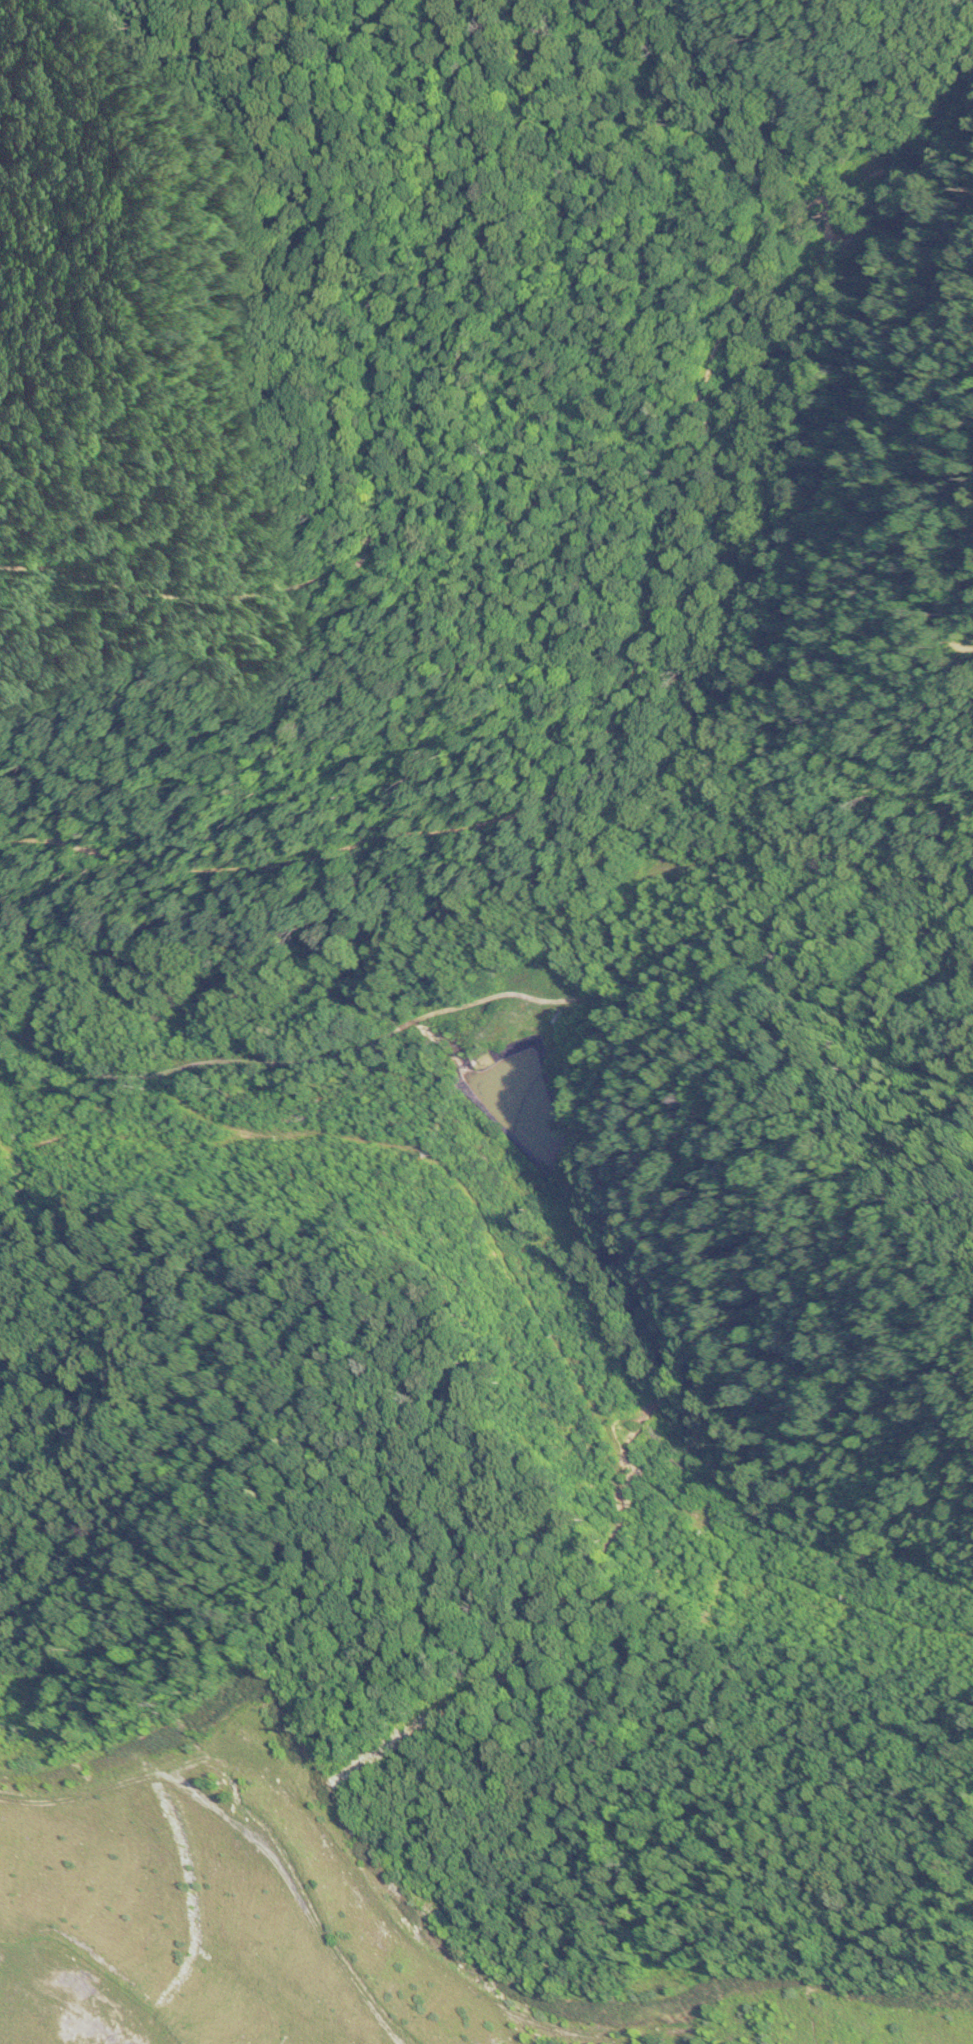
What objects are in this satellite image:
quarry: (369, 1907)

